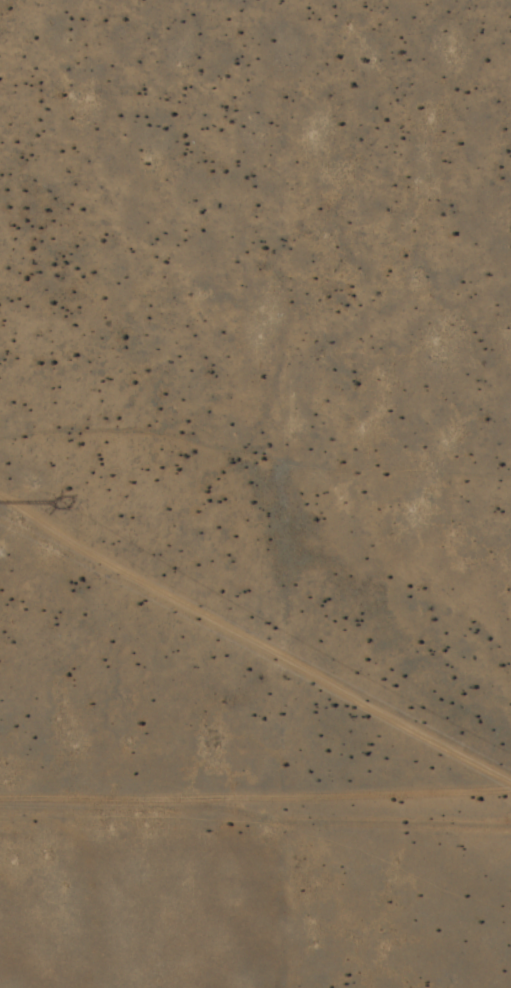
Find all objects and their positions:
road: (255, 829)

